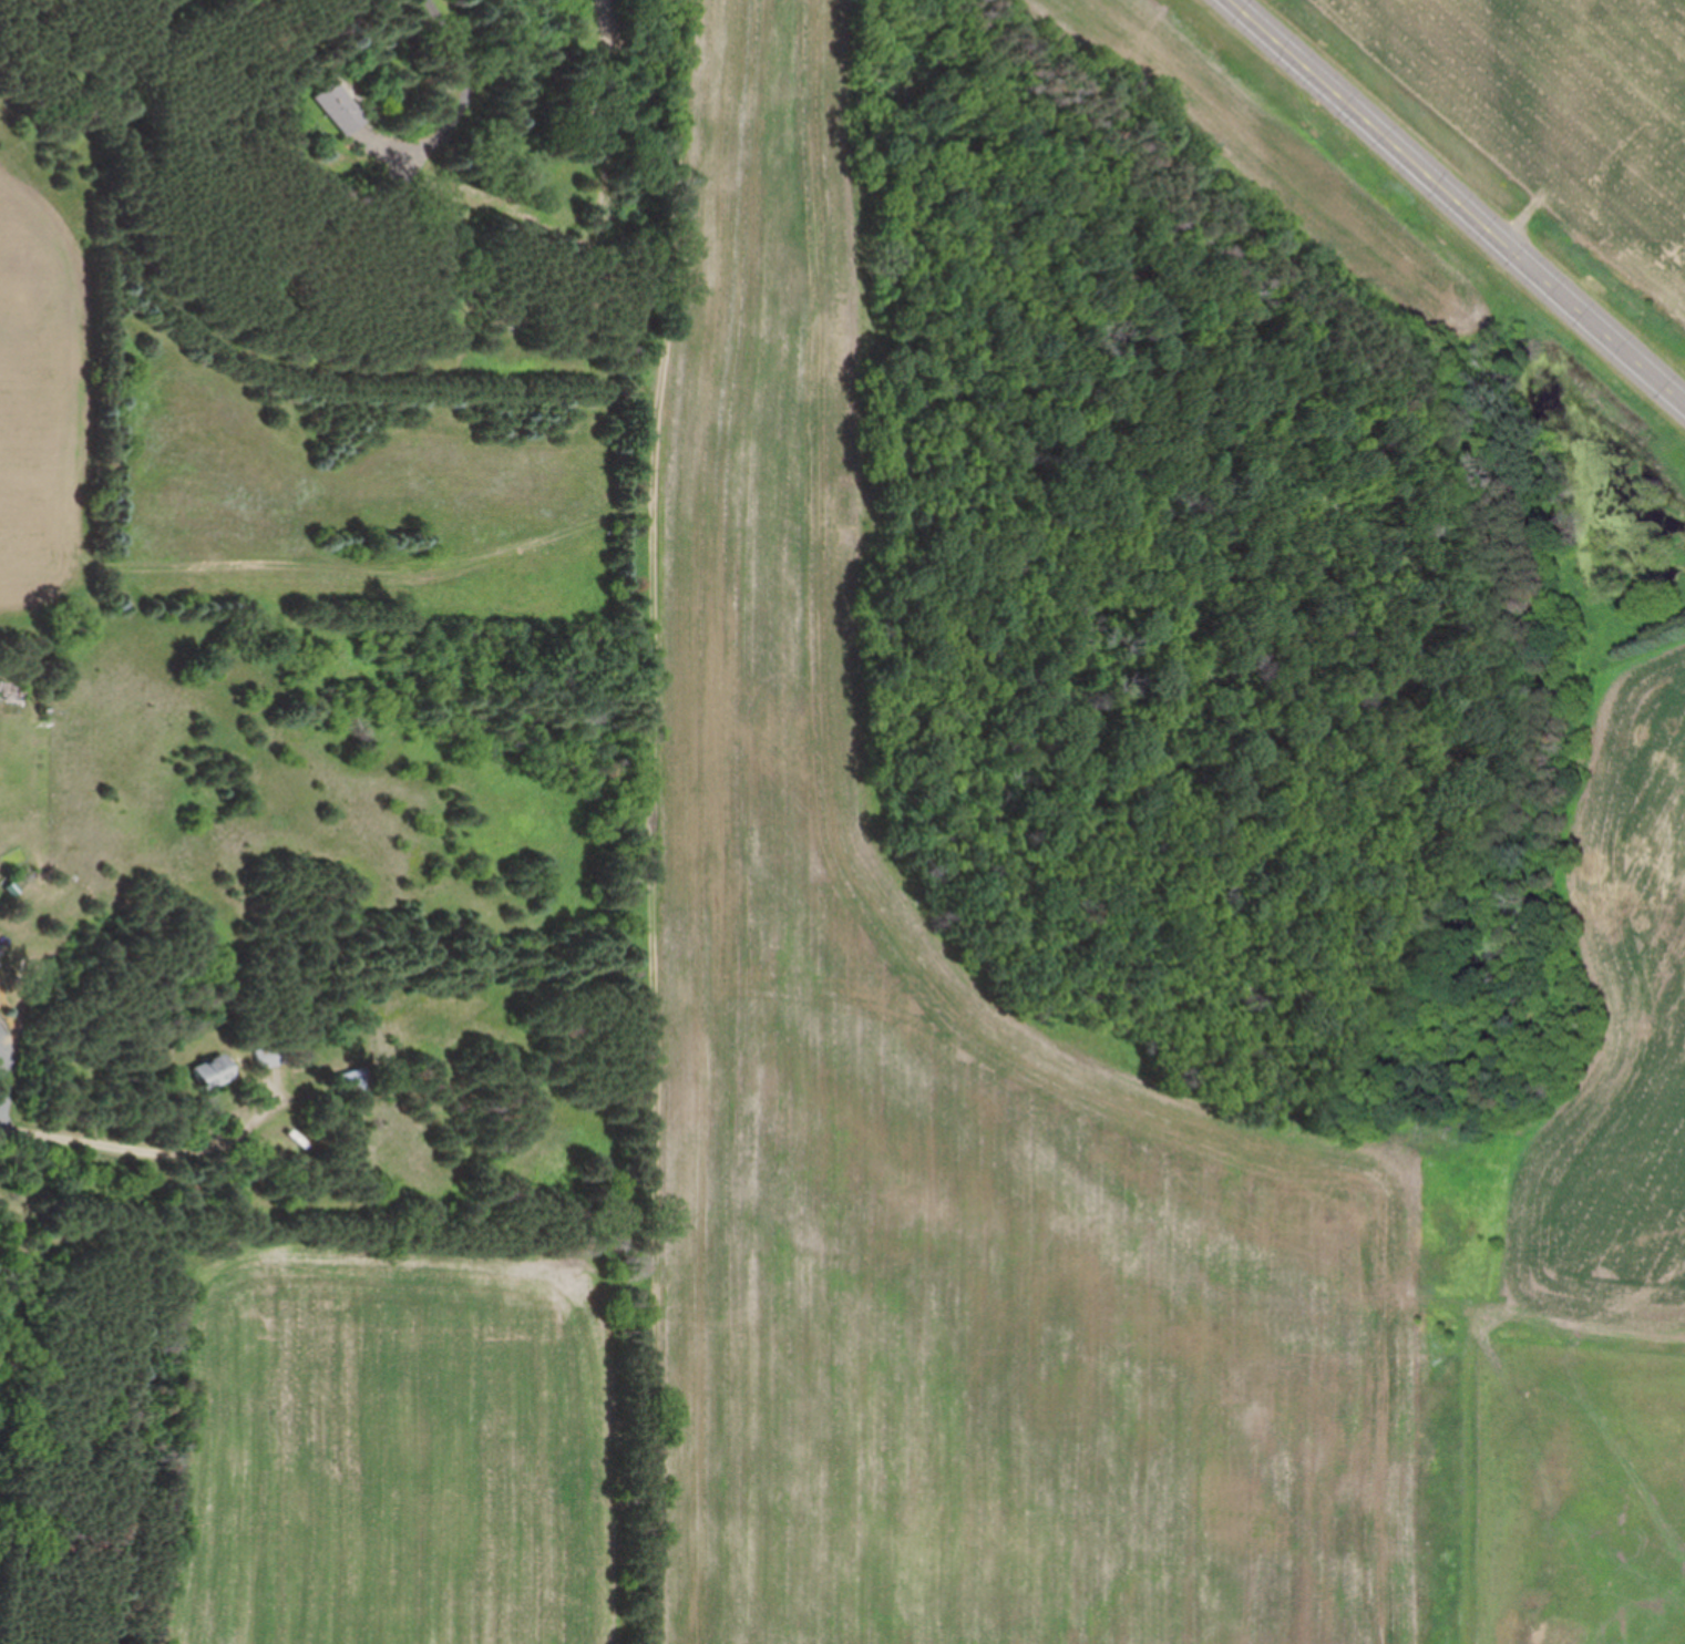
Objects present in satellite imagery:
road: (464, 71)
building: (338, 106)
building: (526, 178)
road: (1458, 202)
building: (1, 969)
building: (271, 1057)
building: (214, 1072)
road: (9, 1081)
building: (356, 1083)
road: (156, 1152)

